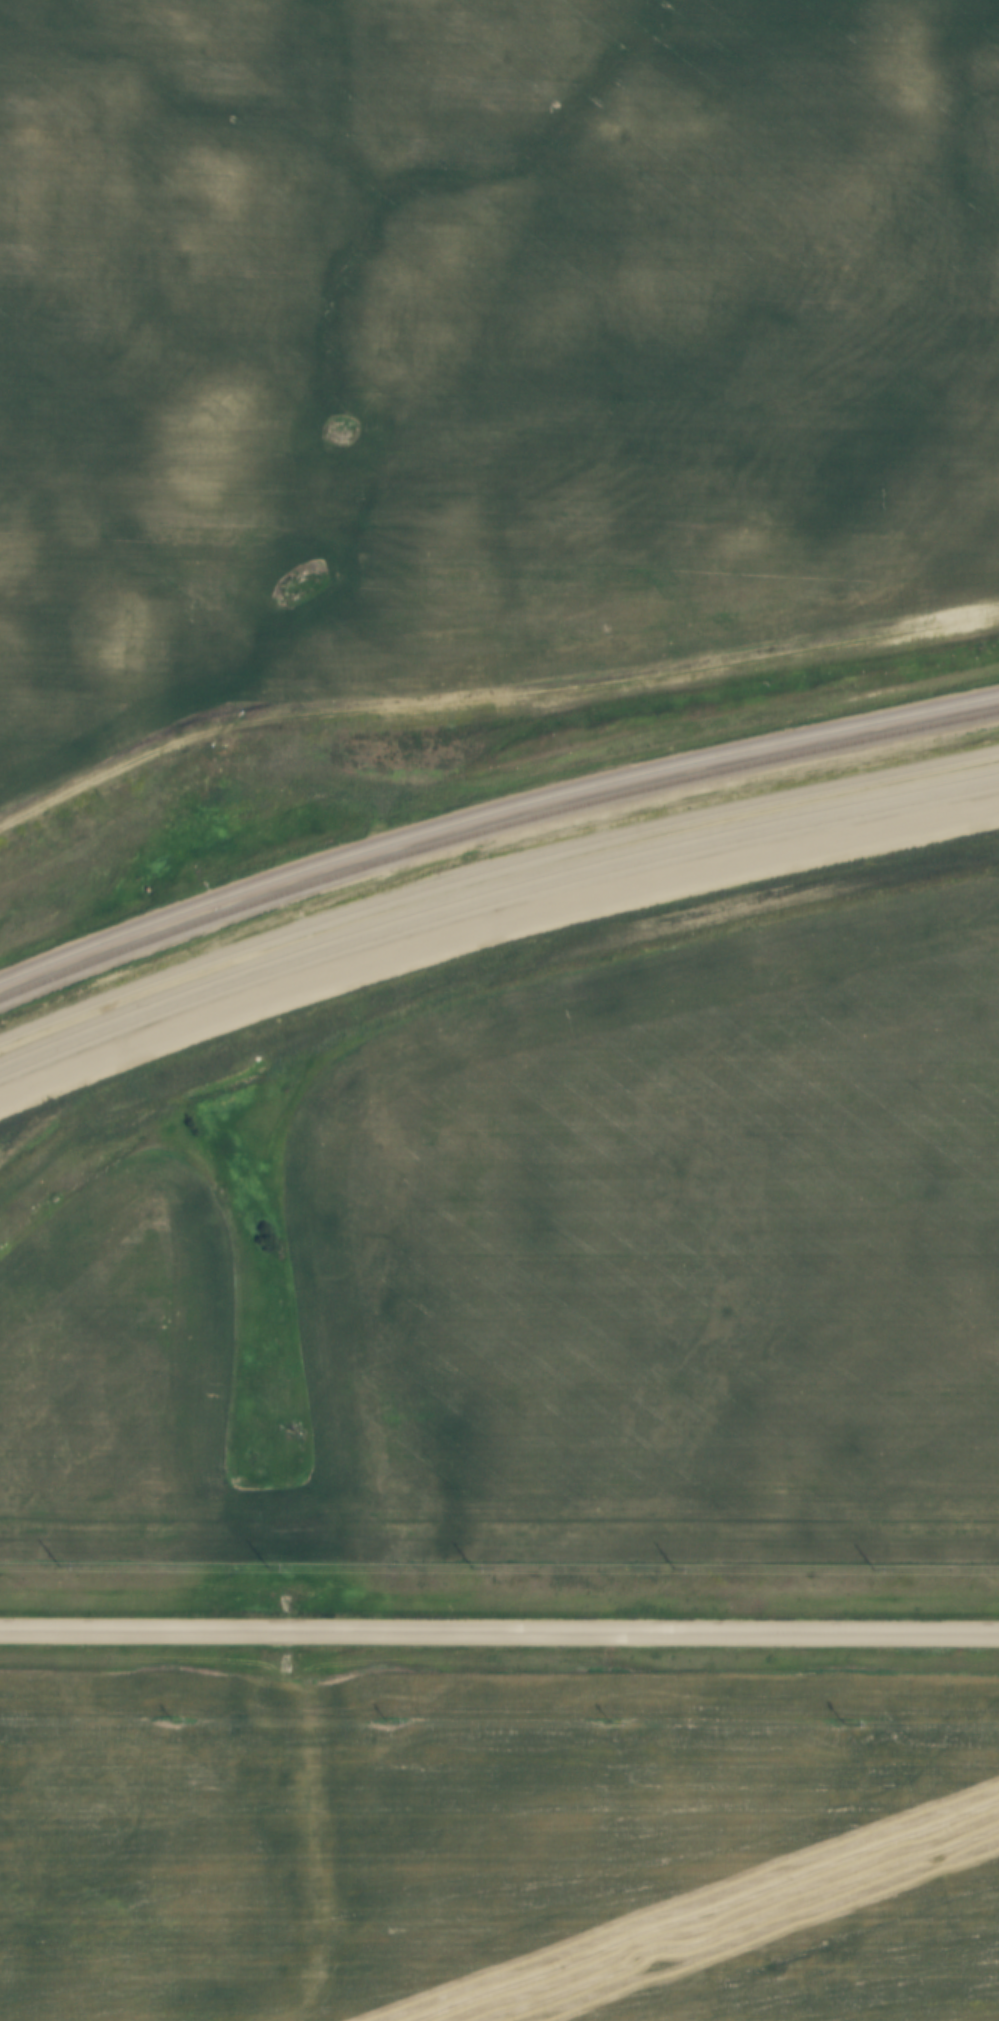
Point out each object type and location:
railway: (491, 808)
railway: (491, 827)
railway: (491, 868)
railway: (491, 885)
railway: (492, 902)
road: (499, 1632)

